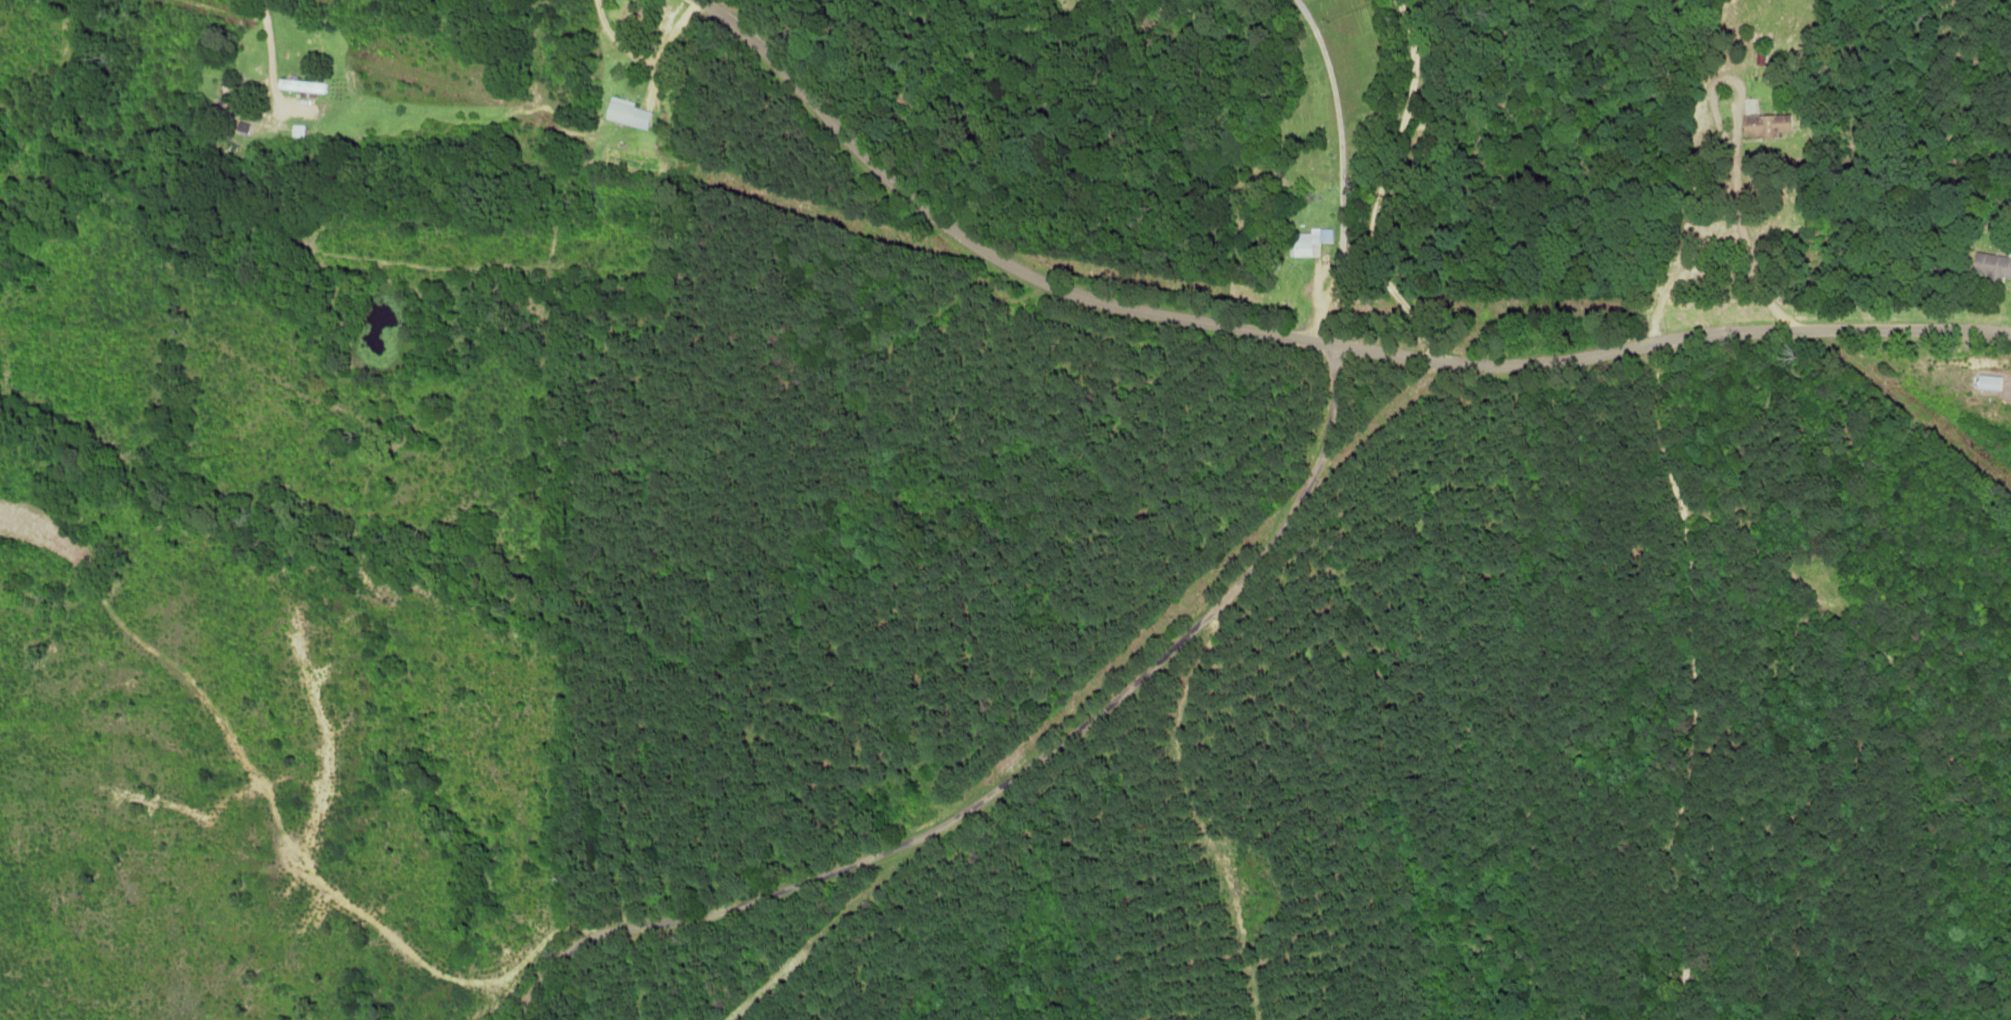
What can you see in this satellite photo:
building: (298, 85)
building: (626, 112)
building: (1758, 124)
building: (1307, 242)
building: (1992, 264)
road: (1309, 336)
building: (1986, 382)
road: (1681, 674)
road: (1021, 771)

